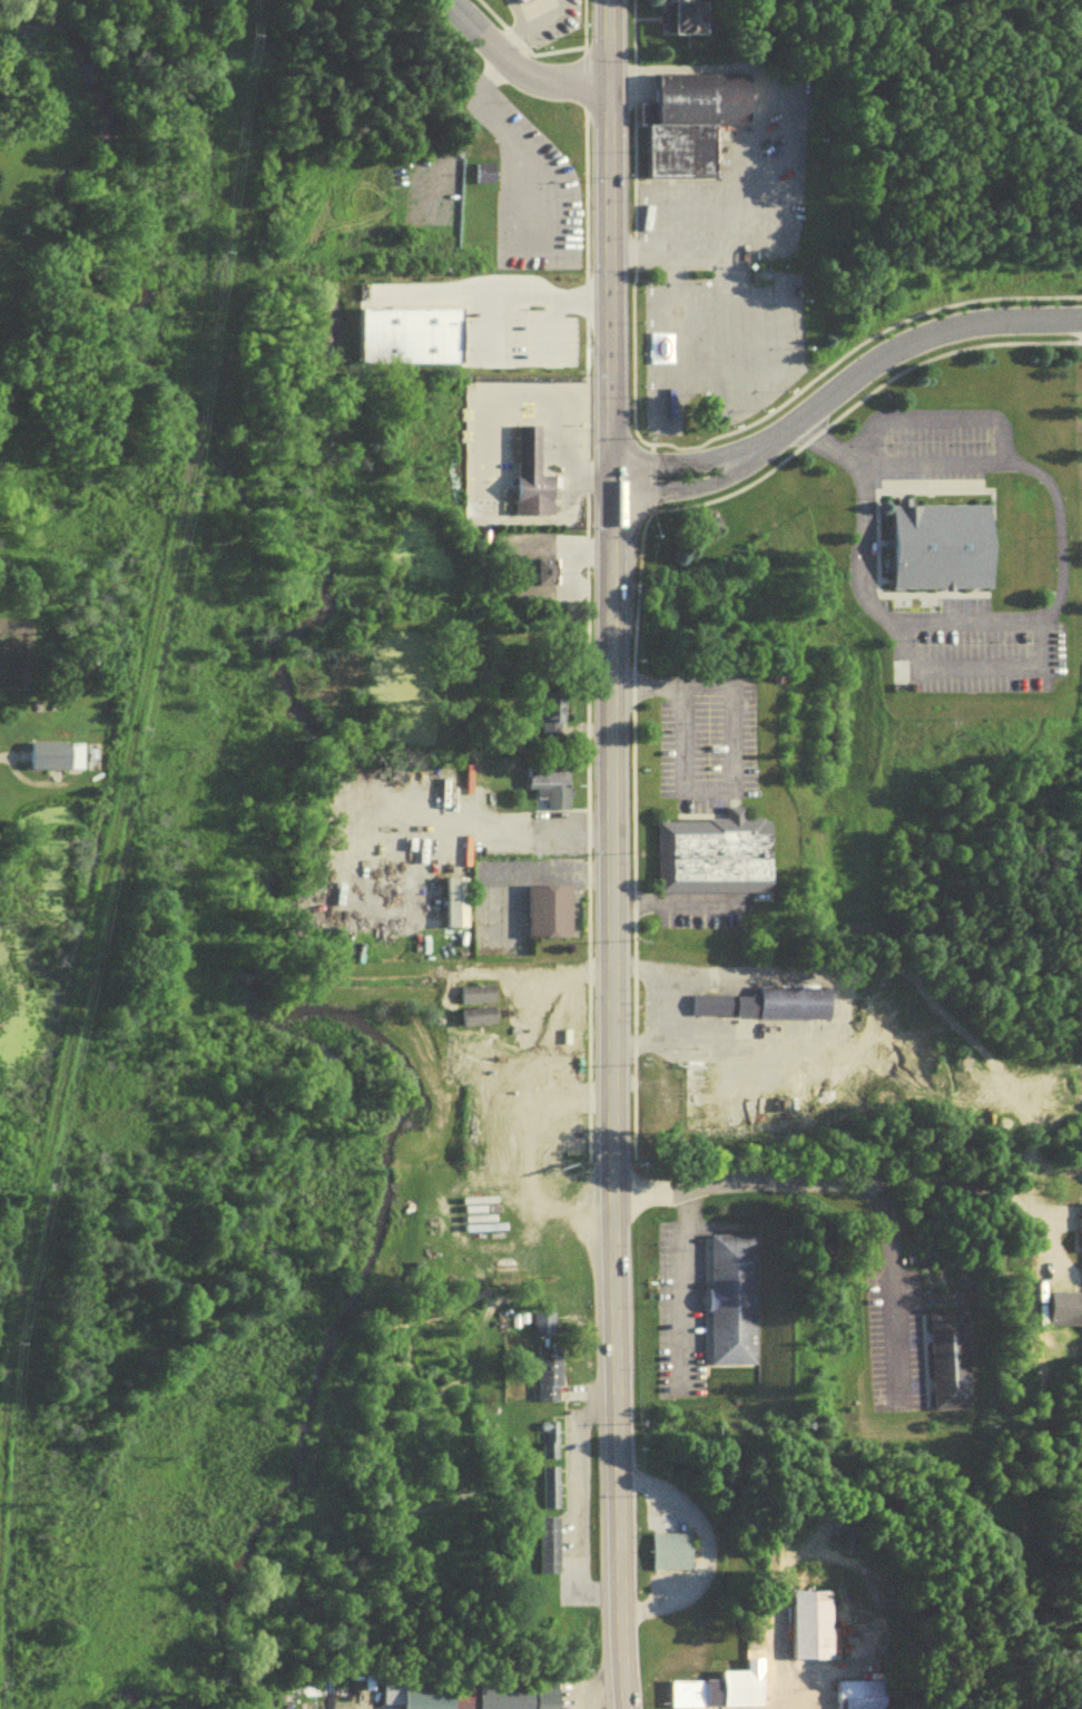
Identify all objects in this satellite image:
building: (514, 0)
building: (527, 2)
building: (692, 23)
road: (527, 29)
road: (519, 78)
building: (687, 116)
road: (517, 148)
road: (452, 154)
road: (763, 155)
building: (480, 173)
road: (489, 291)
building: (405, 330)
parking lot: (514, 334)
road: (517, 358)
road: (840, 382)
road: (504, 399)
road: (521, 413)
road: (933, 421)
street lamp: (579, 426)
road: (495, 431)
road: (549, 431)
road: (495, 441)
road: (549, 442)
road: (824, 445)
road: (495, 455)
road: (551, 455)
road: (1025, 470)
building: (527, 471)
road: (564, 489)
road: (485, 490)
road: (560, 500)
building: (936, 543)
building: (543, 568)
road: (611, 573)
road: (883, 617)
road: (968, 667)
building: (545, 709)
building: (552, 723)
road: (728, 749)
road: (1, 754)
building: (56, 761)
building: (545, 782)
road: (495, 830)
building: (710, 851)
building: (452, 899)
building: (544, 908)
building: (471, 989)
building: (478, 999)
building: (758, 1002)
building: (471, 1012)
building: (479, 1022)
building: (495, 1092)
building: (678, 1110)
building: (687, 1120)
road: (974, 1180)
road: (742, 1182)
road: (686, 1286)
road: (891, 1292)
building: (726, 1296)
building: (539, 1322)
building: (943, 1357)
building: (544, 1369)
road: (613, 1427)
building: (545, 1438)
building: (545, 1484)
road: (570, 1505)
building: (544, 1541)
building: (663, 1547)
road: (702, 1549)
building: (804, 1622)
building: (717, 1687)
road: (592, 1690)
building: (463, 1693)
building: (850, 1693)
road: (793, 1707)

